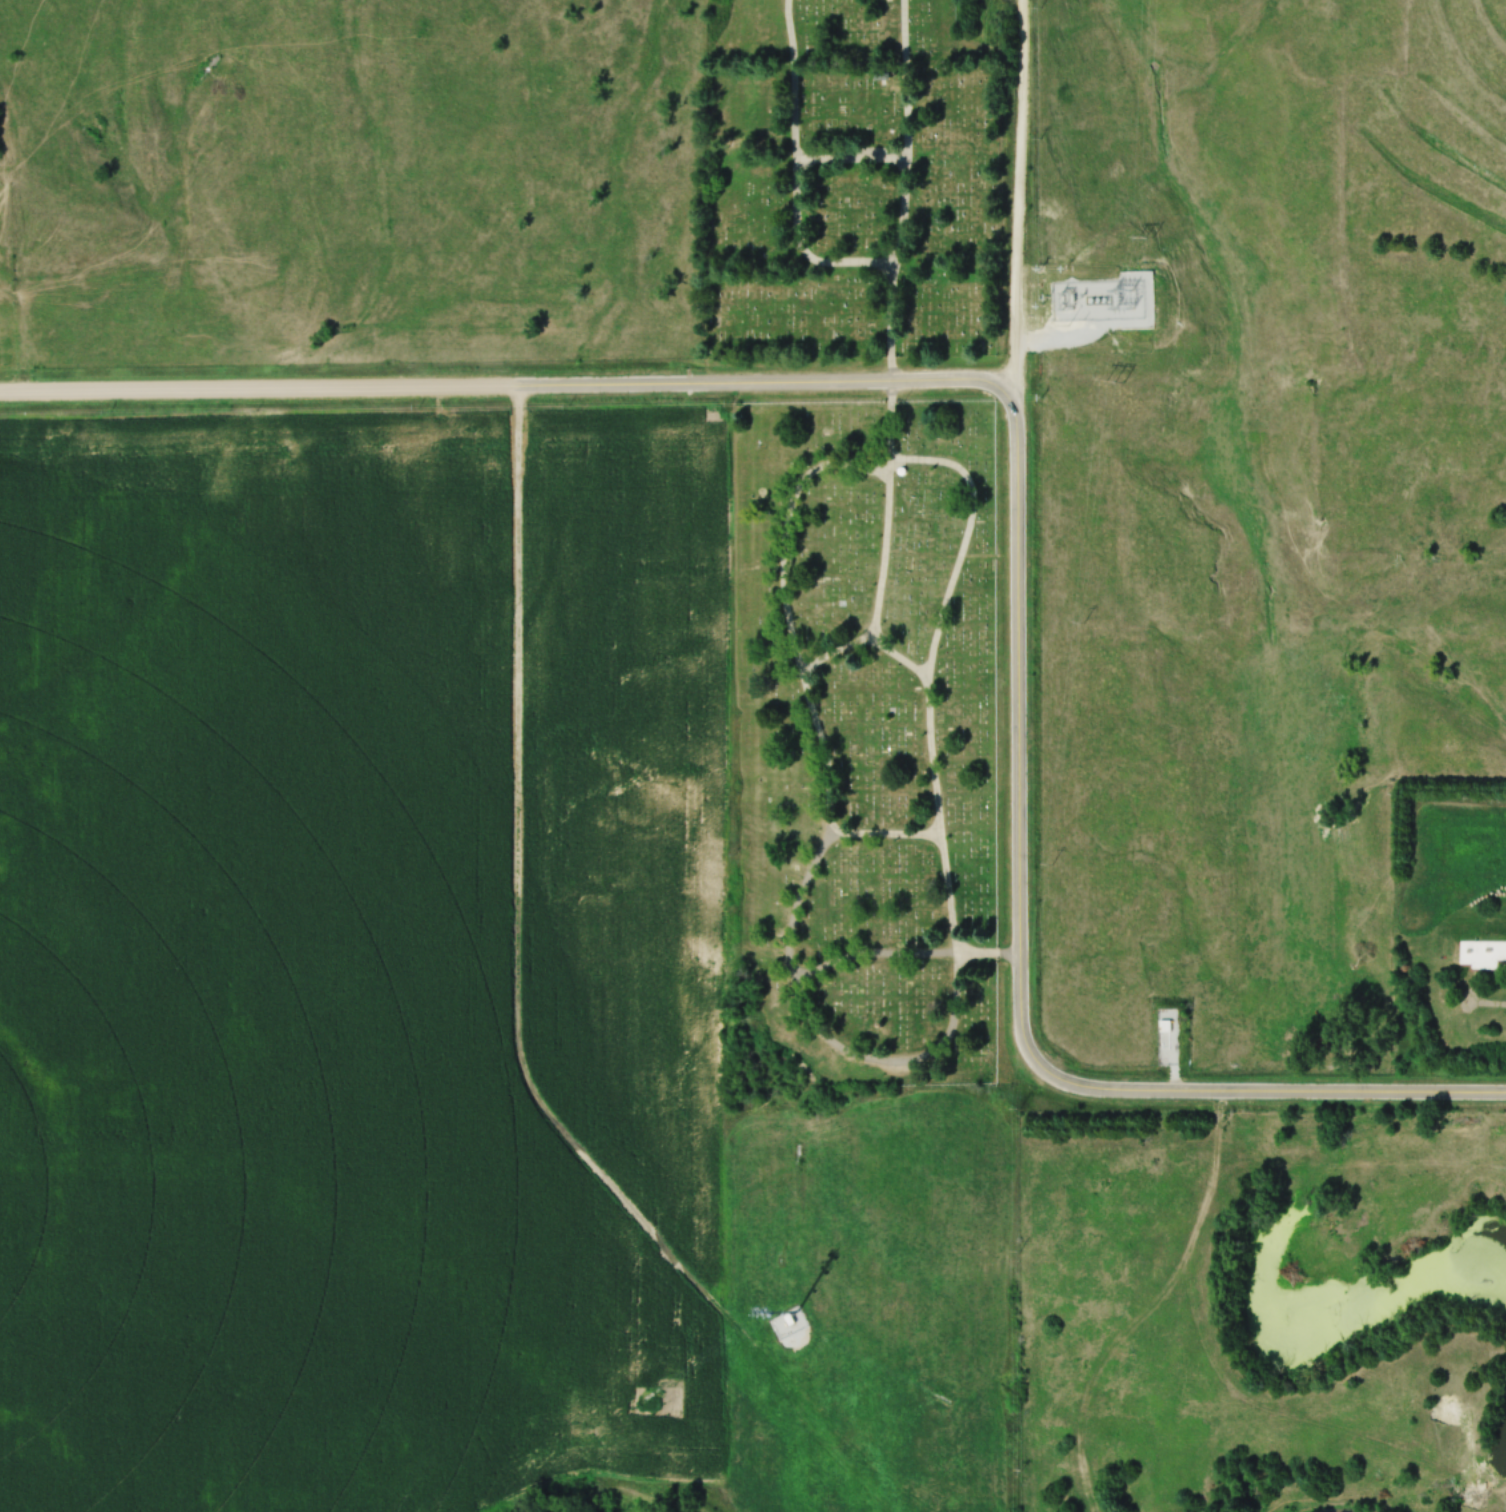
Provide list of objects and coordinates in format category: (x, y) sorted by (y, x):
road: (791, 23)
building: (879, 72)
road: (1020, 187)
road: (905, 188)
road: (509, 381)
road: (812, 472)
road: (837, 645)
road: (929, 680)
road: (1019, 724)
building: (1480, 955)
road: (798, 998)
road: (1273, 1086)
building: (787, 1323)

